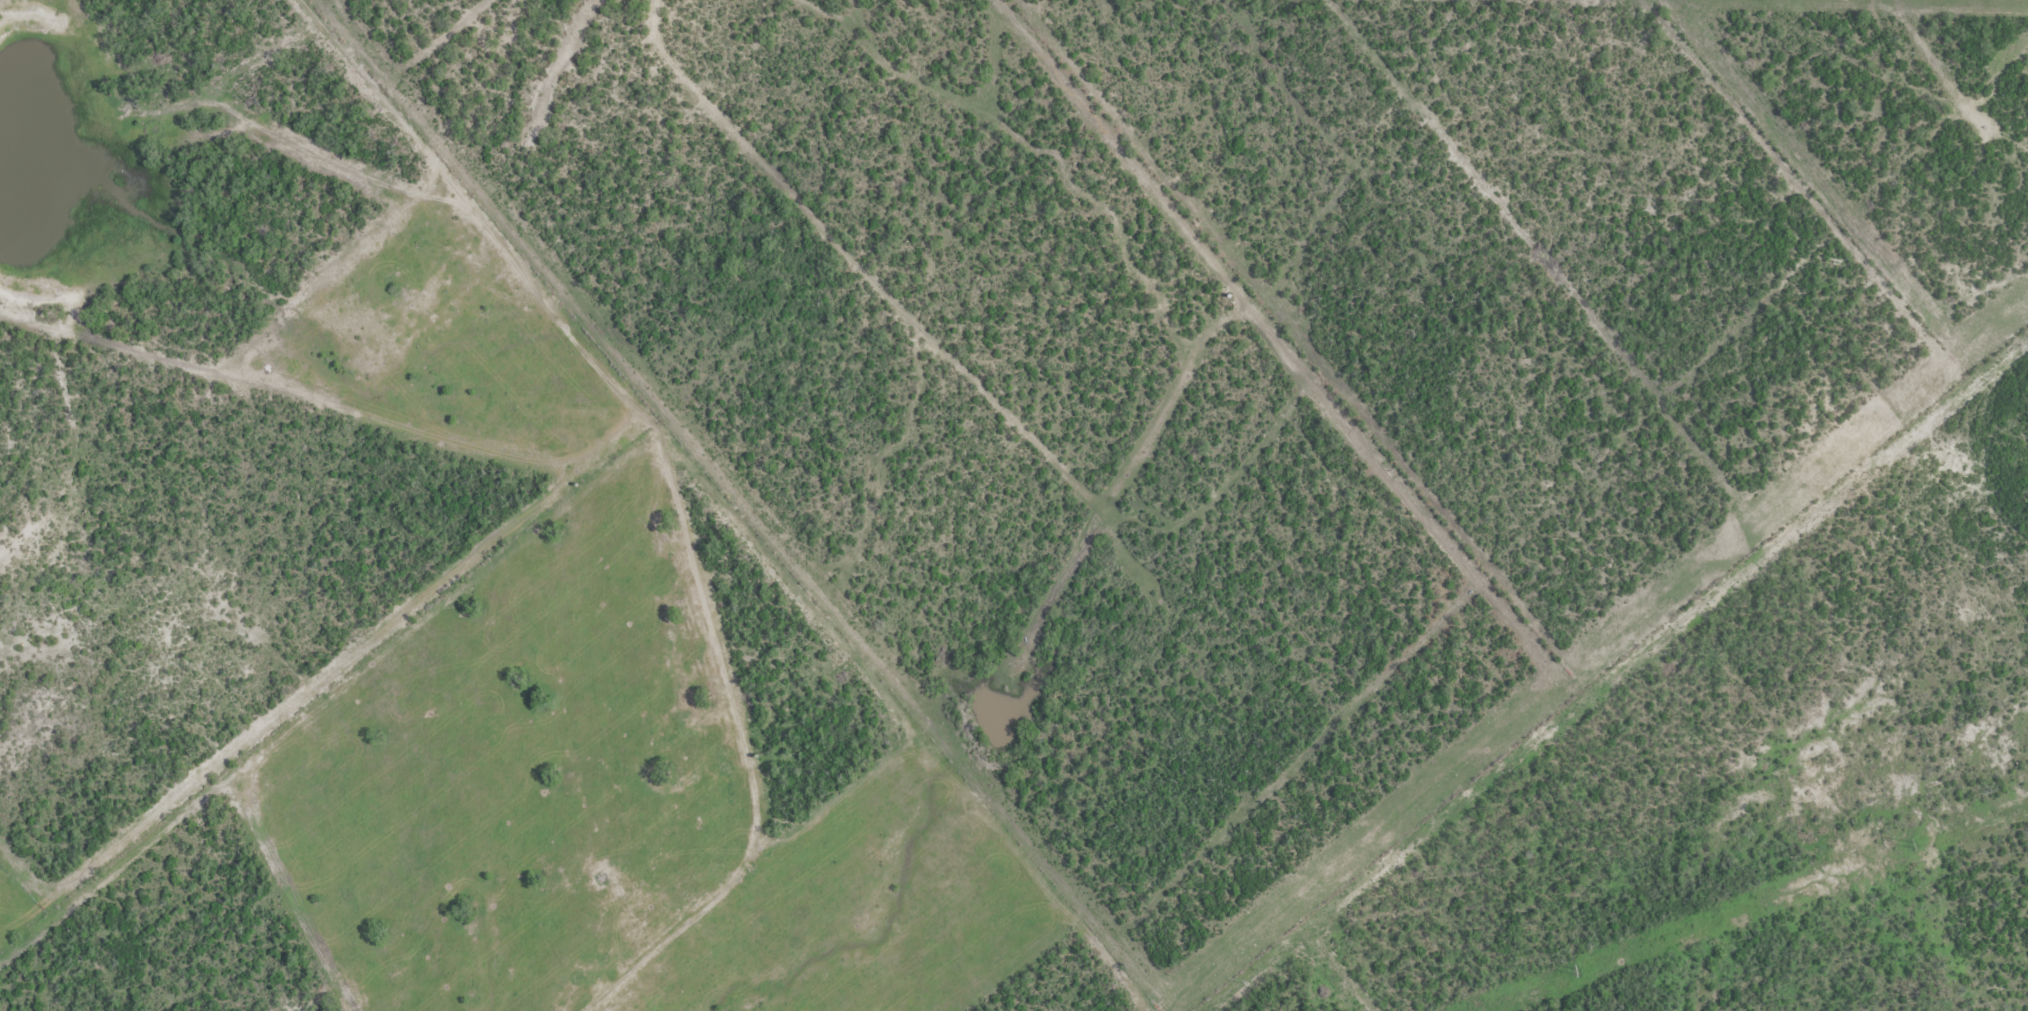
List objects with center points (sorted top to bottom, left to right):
power tower: (1915, 845)
power tower: (1577, 973)

